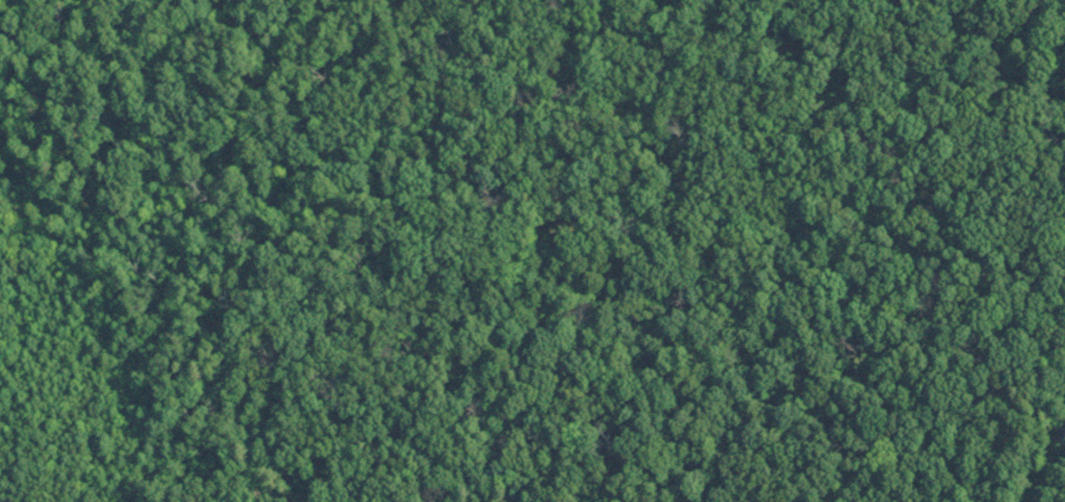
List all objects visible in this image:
road: (1052, 468)

